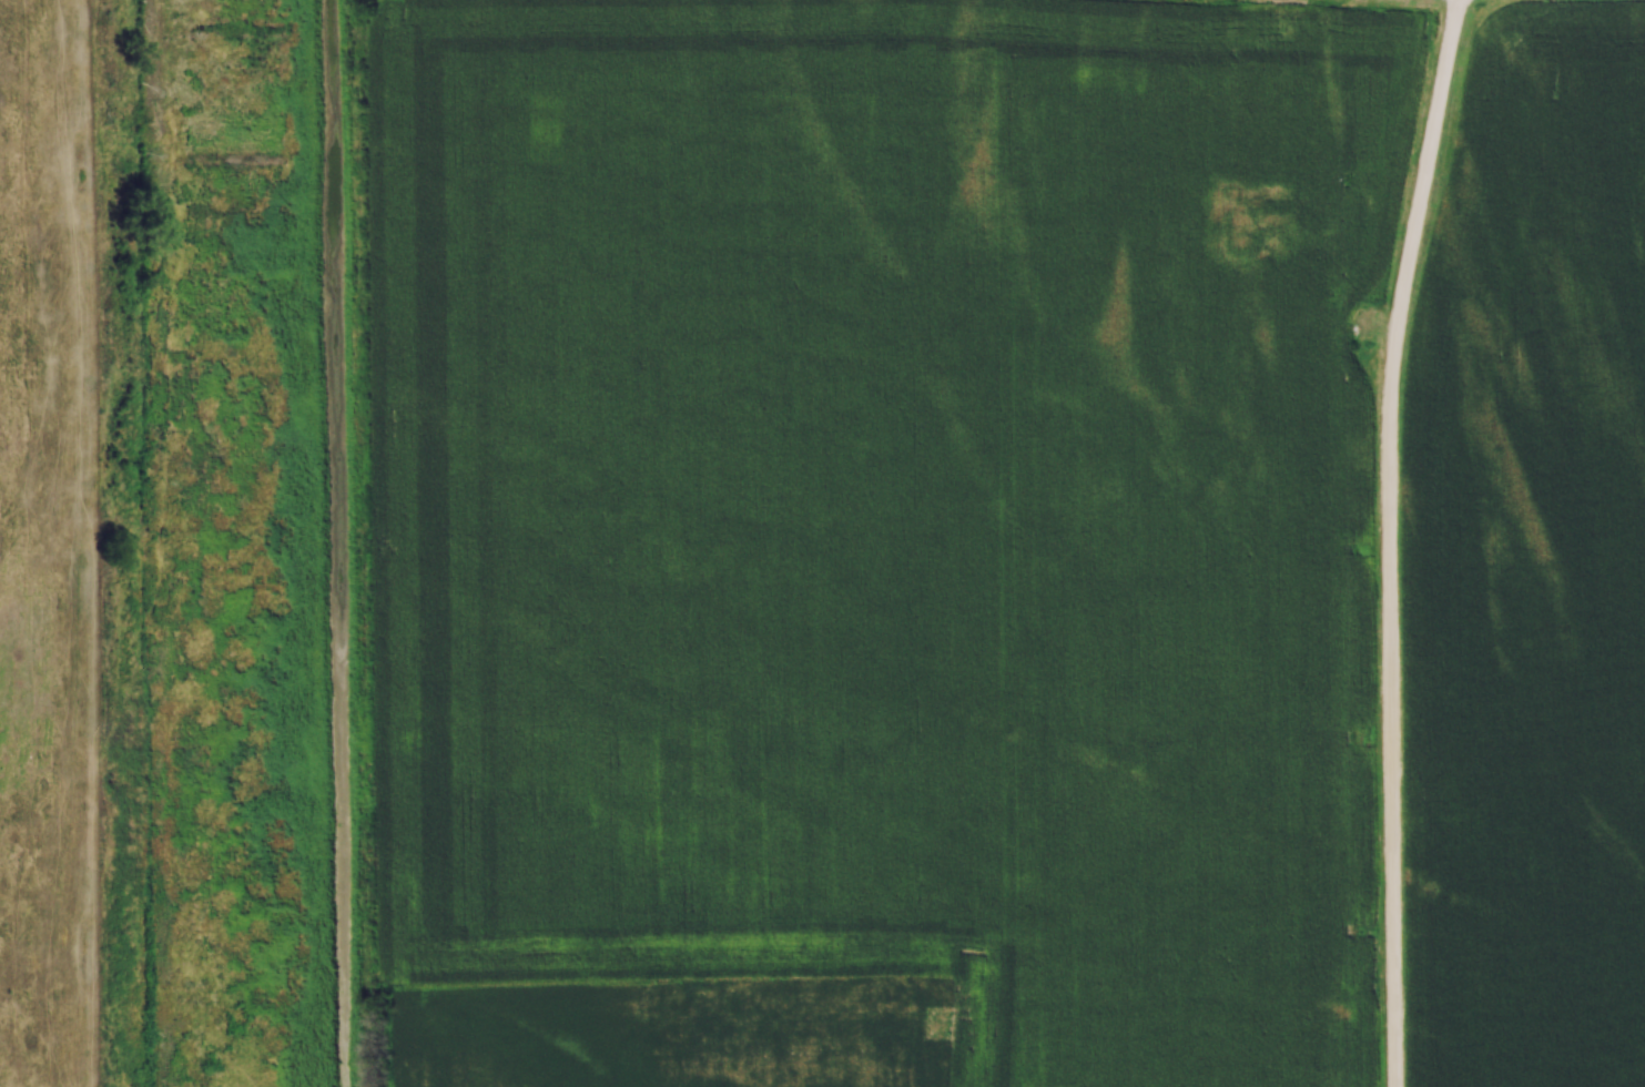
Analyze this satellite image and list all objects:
road: (1385, 540)

